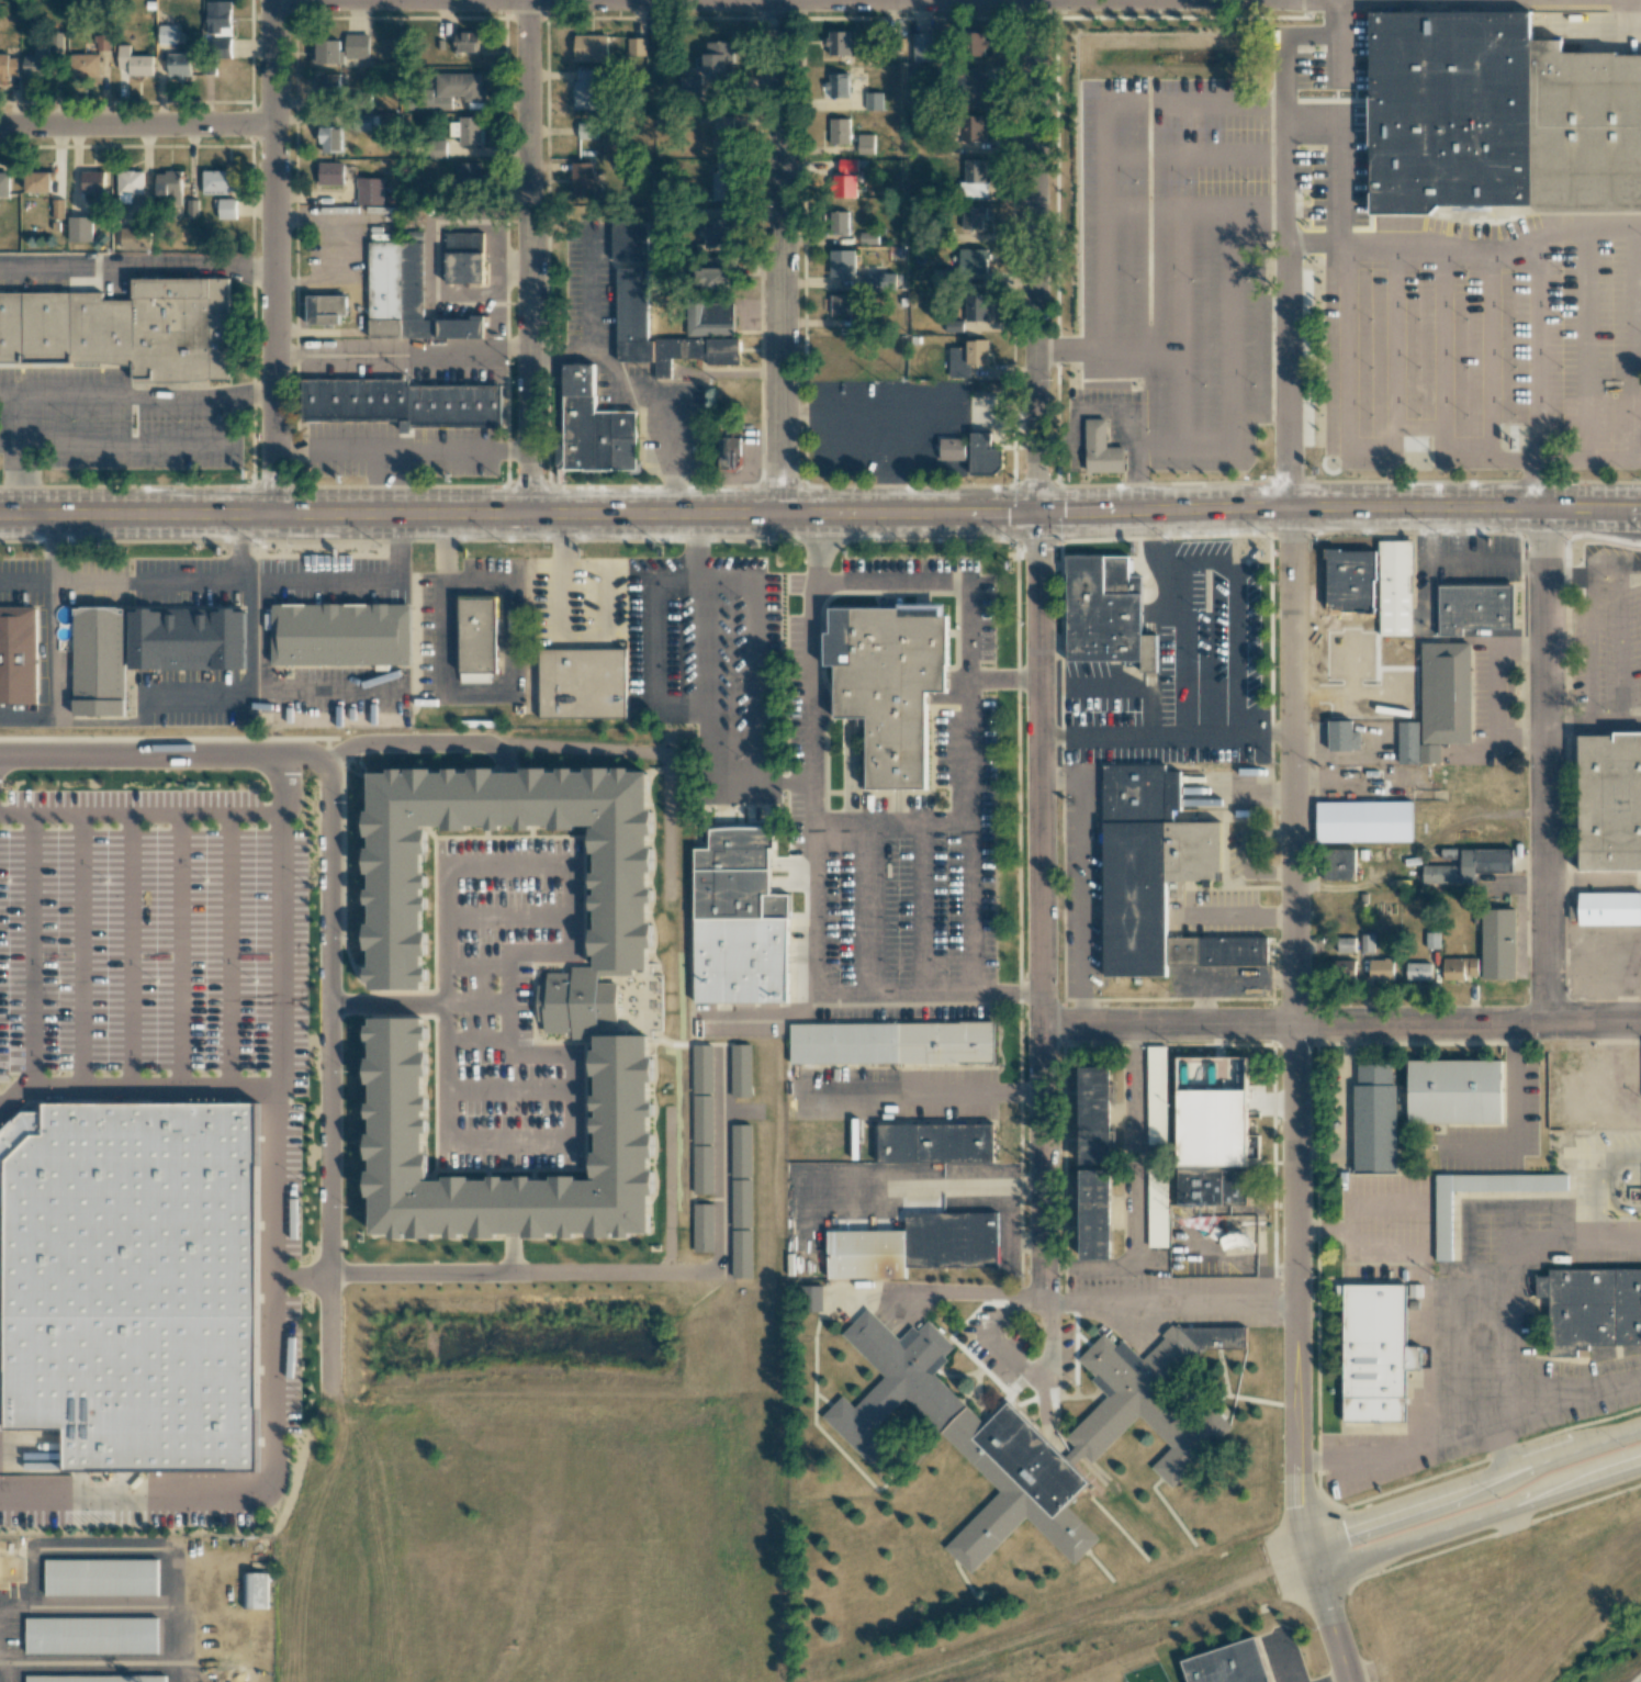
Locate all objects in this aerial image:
road: (593, 0)
road: (1285, 0)
park: (1413, 0)
road: (1401, 1)
building: (217, 16)
building: (166, 34)
building: (56, 41)
building: (467, 42)
building: (103, 43)
building: (839, 43)
building: (975, 44)
building: (220, 45)
building: (636, 46)
building: (591, 47)
building: (922, 47)
building: (340, 49)
building: (717, 58)
building: (36, 61)
building: (134, 63)
building: (179, 65)
building: (8, 66)
building: (85, 66)
building: (326, 85)
building: (689, 85)
building: (839, 86)
building: (971, 89)
building: (452, 90)
building: (584, 90)
building: (874, 101)
building: (1497, 117)
road: (136, 126)
building: (973, 127)
building: (467, 131)
building: (586, 131)
building: (839, 131)
building: (723, 134)
building: (330, 139)
building: (865, 144)
building: (438, 149)
building: (330, 173)
building: (465, 173)
building: (846, 178)
building: (974, 178)
building: (582, 179)
building: (218, 181)
building: (37, 182)
building: (92, 182)
building: (723, 182)
building: (168, 183)
building: (4, 184)
building: (128, 186)
building: (370, 191)
building: (57, 209)
building: (192, 209)
building: (226, 209)
building: (970, 217)
building: (839, 223)
building: (80, 229)
building: (717, 234)
road: (1390, 236)
building: (135, 238)
building: (867, 238)
building: (630, 242)
road: (273, 258)
building: (464, 258)
road: (528, 259)
road: (783, 259)
road: (1036, 259)
building: (971, 260)
building: (842, 262)
road: (136, 269)
building: (713, 274)
road: (1288, 277)
building: (942, 278)
building: (406, 295)
building: (632, 303)
building: (840, 305)
building: (976, 306)
building: (325, 310)
building: (710, 319)
building: (953, 326)
building: (123, 330)
building: (967, 358)
road: (1538, 369)
road: (251, 391)
building: (402, 403)
road: (231, 420)
building: (594, 428)
road: (1363, 448)
building: (952, 449)
building: (1101, 449)
road: (402, 451)
building: (727, 453)
road: (22, 455)
building: (985, 455)
road: (387, 484)
traffic signals: (1036, 519)
road: (820, 520)
road: (818, 552)
road: (562, 578)
building: (1372, 596)
road: (606, 599)
building: (1473, 608)
building: (1104, 609)
building: (341, 635)
building: (477, 635)
building: (188, 639)
building: (19, 655)
building: (100, 663)
building: (474, 677)
road: (1002, 679)
building: (582, 683)
building: (886, 684)
building: (1445, 697)
road: (968, 711)
building: (1342, 737)
building: (1408, 742)
road: (1540, 766)
building: (1610, 801)
road: (138, 810)
building: (1363, 821)
road: (889, 825)
road: (533, 864)
building: (1339, 864)
building: (1470, 866)
building: (1157, 876)
road: (1082, 879)
road: (811, 900)
road: (1039, 905)
building: (612, 906)
building: (1609, 908)
road: (921, 909)
road: (866, 910)
road: (329, 913)
building: (739, 921)
building: (1367, 942)
building: (1497, 943)
building: (1346, 944)
road: (30, 947)
road: (80, 949)
road: (131, 949)
road: (179, 949)
road: (227, 950)
building: (1345, 968)
building: (1459, 968)
building: (1381, 969)
building: (1418, 972)
road: (387, 1005)
building: (576, 1010)
road: (761, 1014)
road: (1340, 1024)
building: (892, 1043)
building: (703, 1068)
building: (741, 1070)
road: (135, 1088)
road: (926, 1090)
building: (1156, 1095)
road: (1293, 1098)
building: (1449, 1098)
building: (1097, 1114)
building: (387, 1118)
building: (701, 1119)
building: (1371, 1123)
building: (935, 1143)
road: (572, 1146)
building: (741, 1151)
building: (703, 1170)
building: (1216, 1170)
road: (913, 1186)
building: (741, 1203)
building: (1159, 1204)
building: (1098, 1214)
building: (1442, 1225)
building: (703, 1227)
building: (914, 1245)
road: (272, 1252)
building: (741, 1254)
road: (300, 1276)
building: (124, 1280)
road: (932, 1290)
building: (811, 1298)
road: (1004, 1312)
building: (1589, 1312)
road: (1050, 1333)
road: (1012, 1357)
building: (1371, 1360)
building: (1027, 1427)
road: (1473, 1487)
road: (1476, 1517)
building: (100, 1577)
building: (254, 1590)
building: (91, 1635)
road: (1289, 1661)
building: (1228, 1664)
building: (92, 1679)
road: (1344, 1680)

